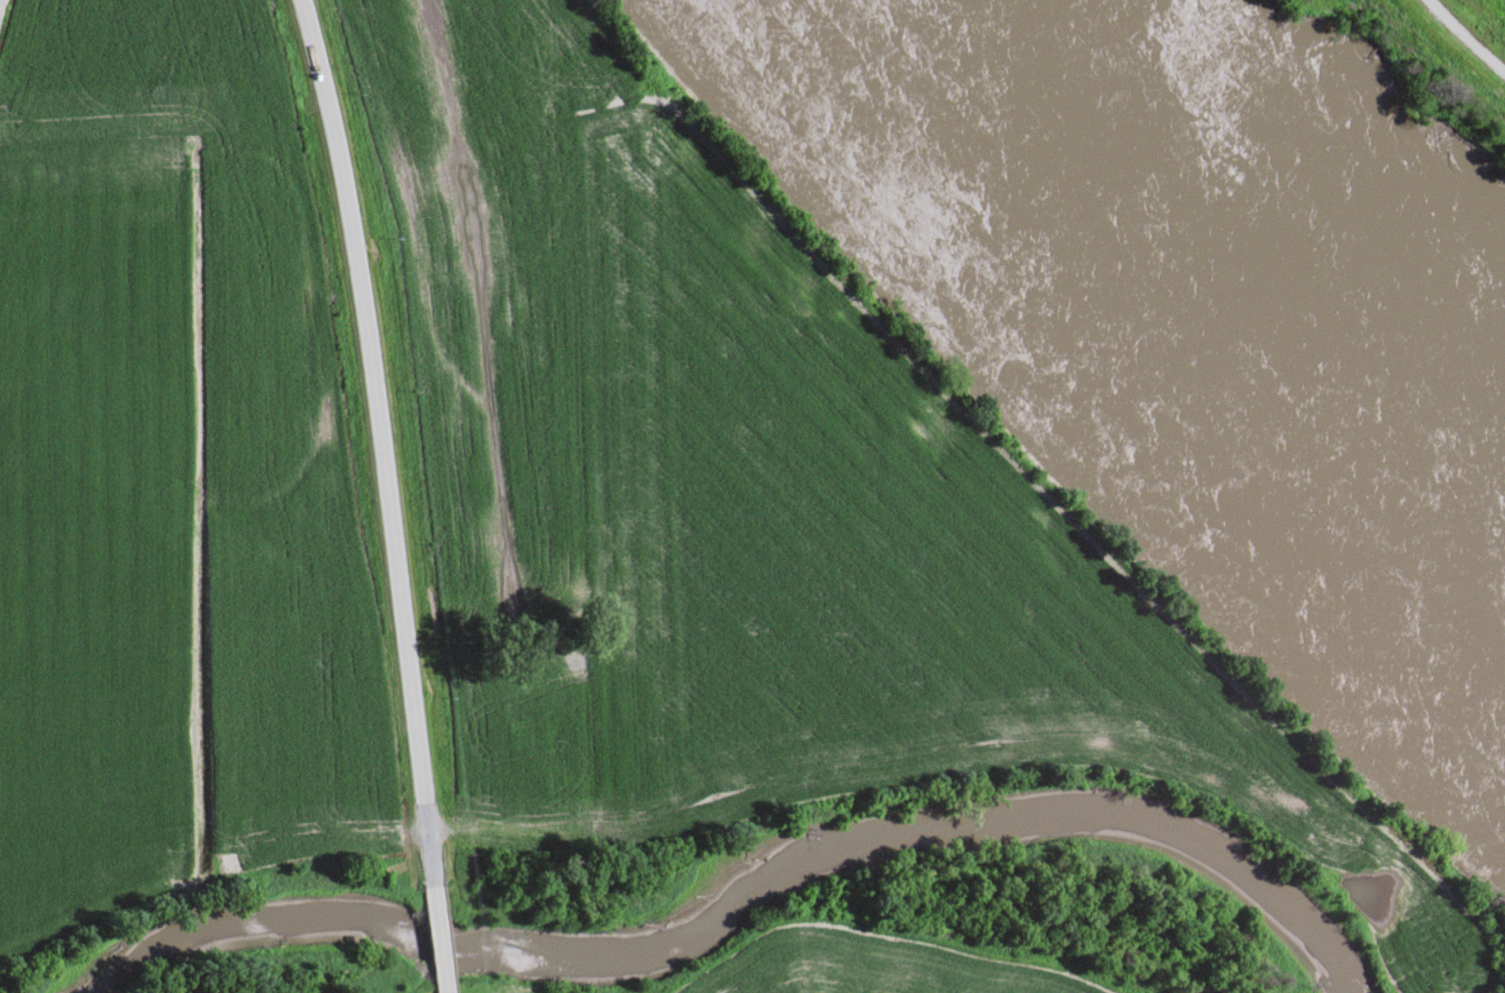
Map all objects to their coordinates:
road: (0, 0)
road: (1477, 28)
river: (1237, 235)
road: (384, 442)
river: (729, 888)
road: (444, 941)

